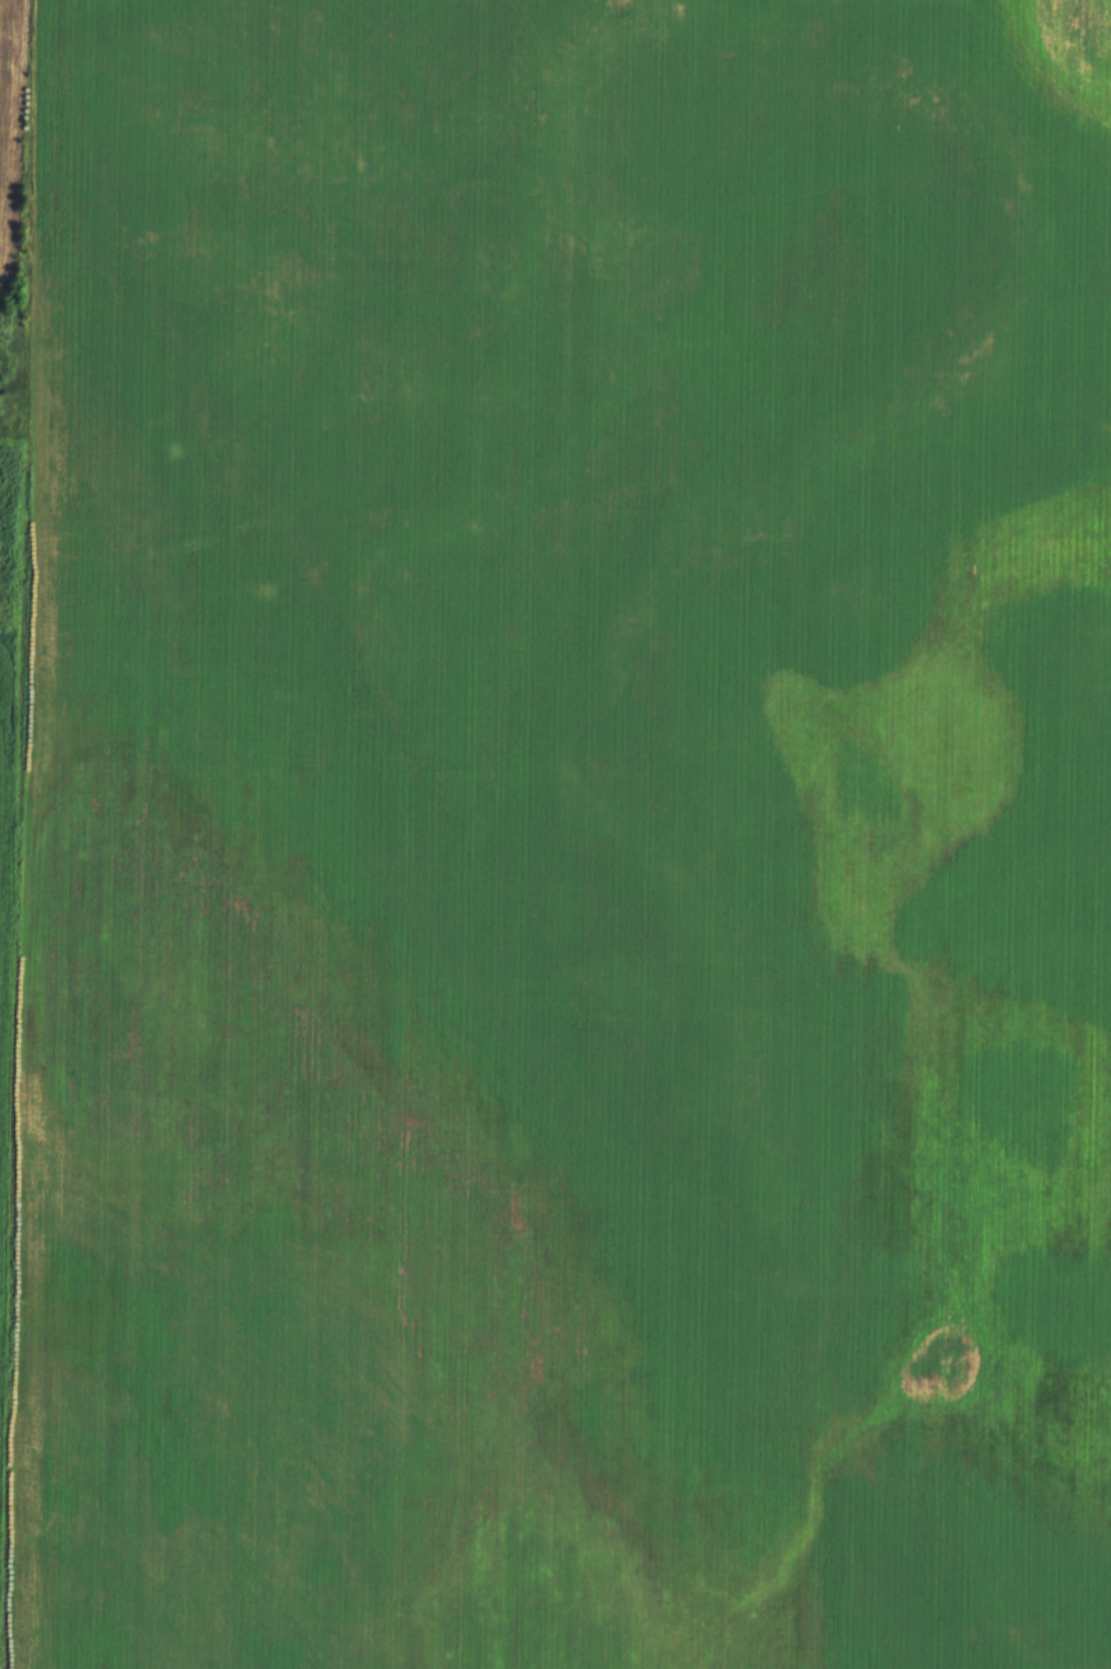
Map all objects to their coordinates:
crop: (12, 135)

